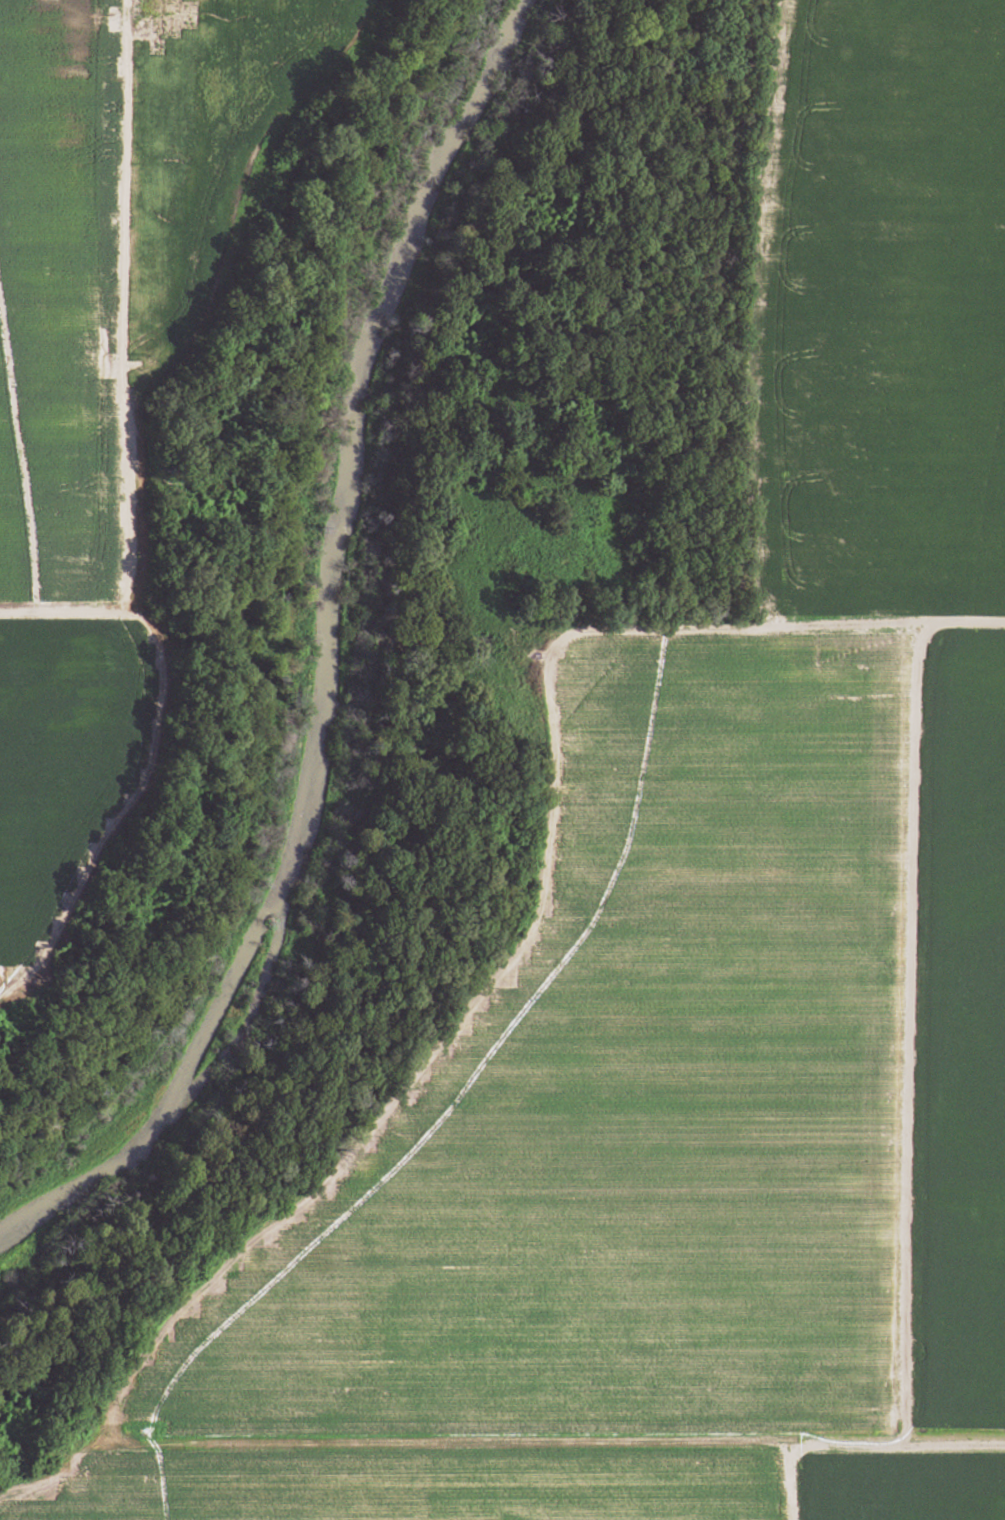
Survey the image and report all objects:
road: (745, 318)
river: (325, 663)
road: (536, 910)
road: (901, 1036)
road: (488, 1438)
road: (1004, 1443)
road: (788, 1480)
road: (994, 1483)

